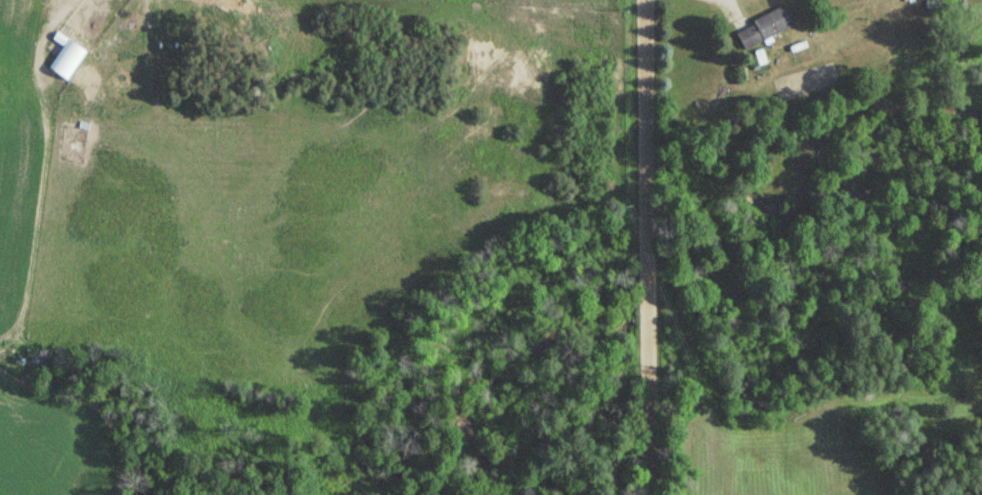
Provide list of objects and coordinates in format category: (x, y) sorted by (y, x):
building: (762, 27)
building: (66, 61)
road: (654, 247)

